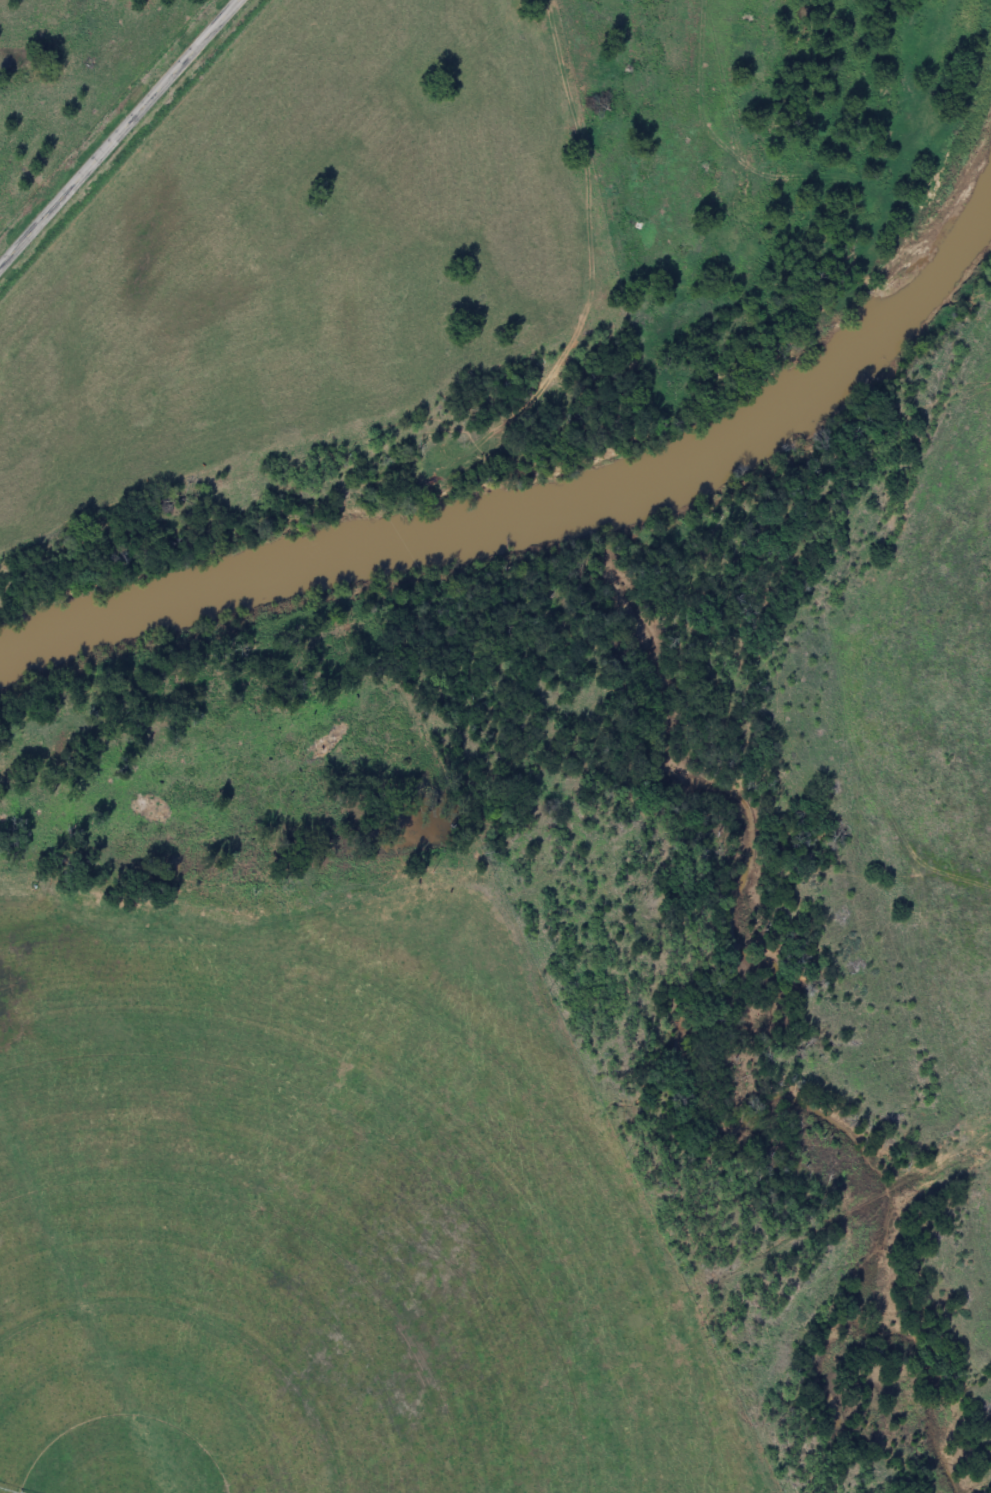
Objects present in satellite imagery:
road: (119, 134)
river: (543, 514)
road: (890, 775)
road: (631, 1216)

